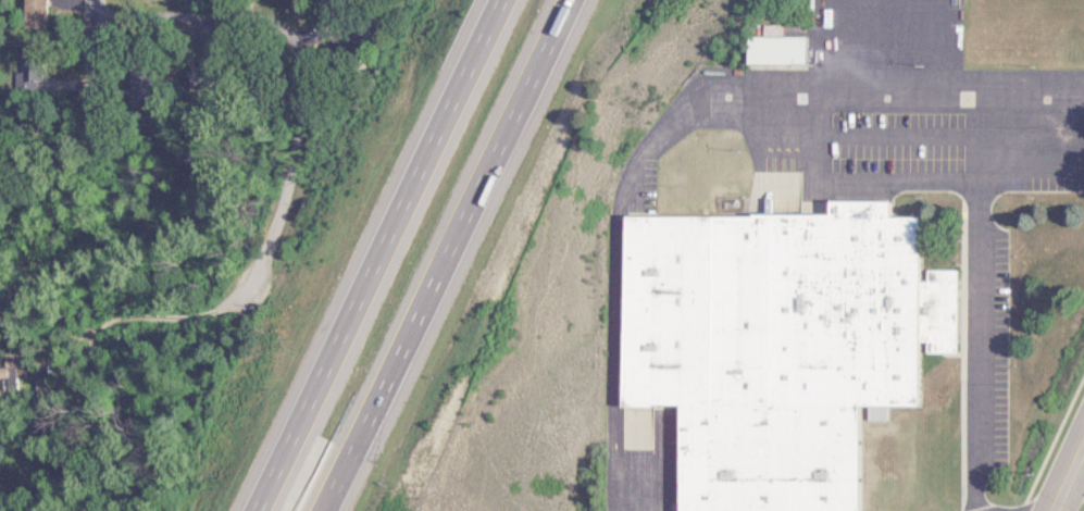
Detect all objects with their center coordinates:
building: (26, 15)
road: (91, 28)
road: (211, 29)
road: (289, 29)
building: (762, 49)
road: (662, 109)
road: (972, 140)
road: (364, 255)
road: (439, 255)
road: (252, 265)
building: (762, 345)
road: (969, 350)
building: (868, 413)
road: (1064, 470)
road: (1073, 475)

